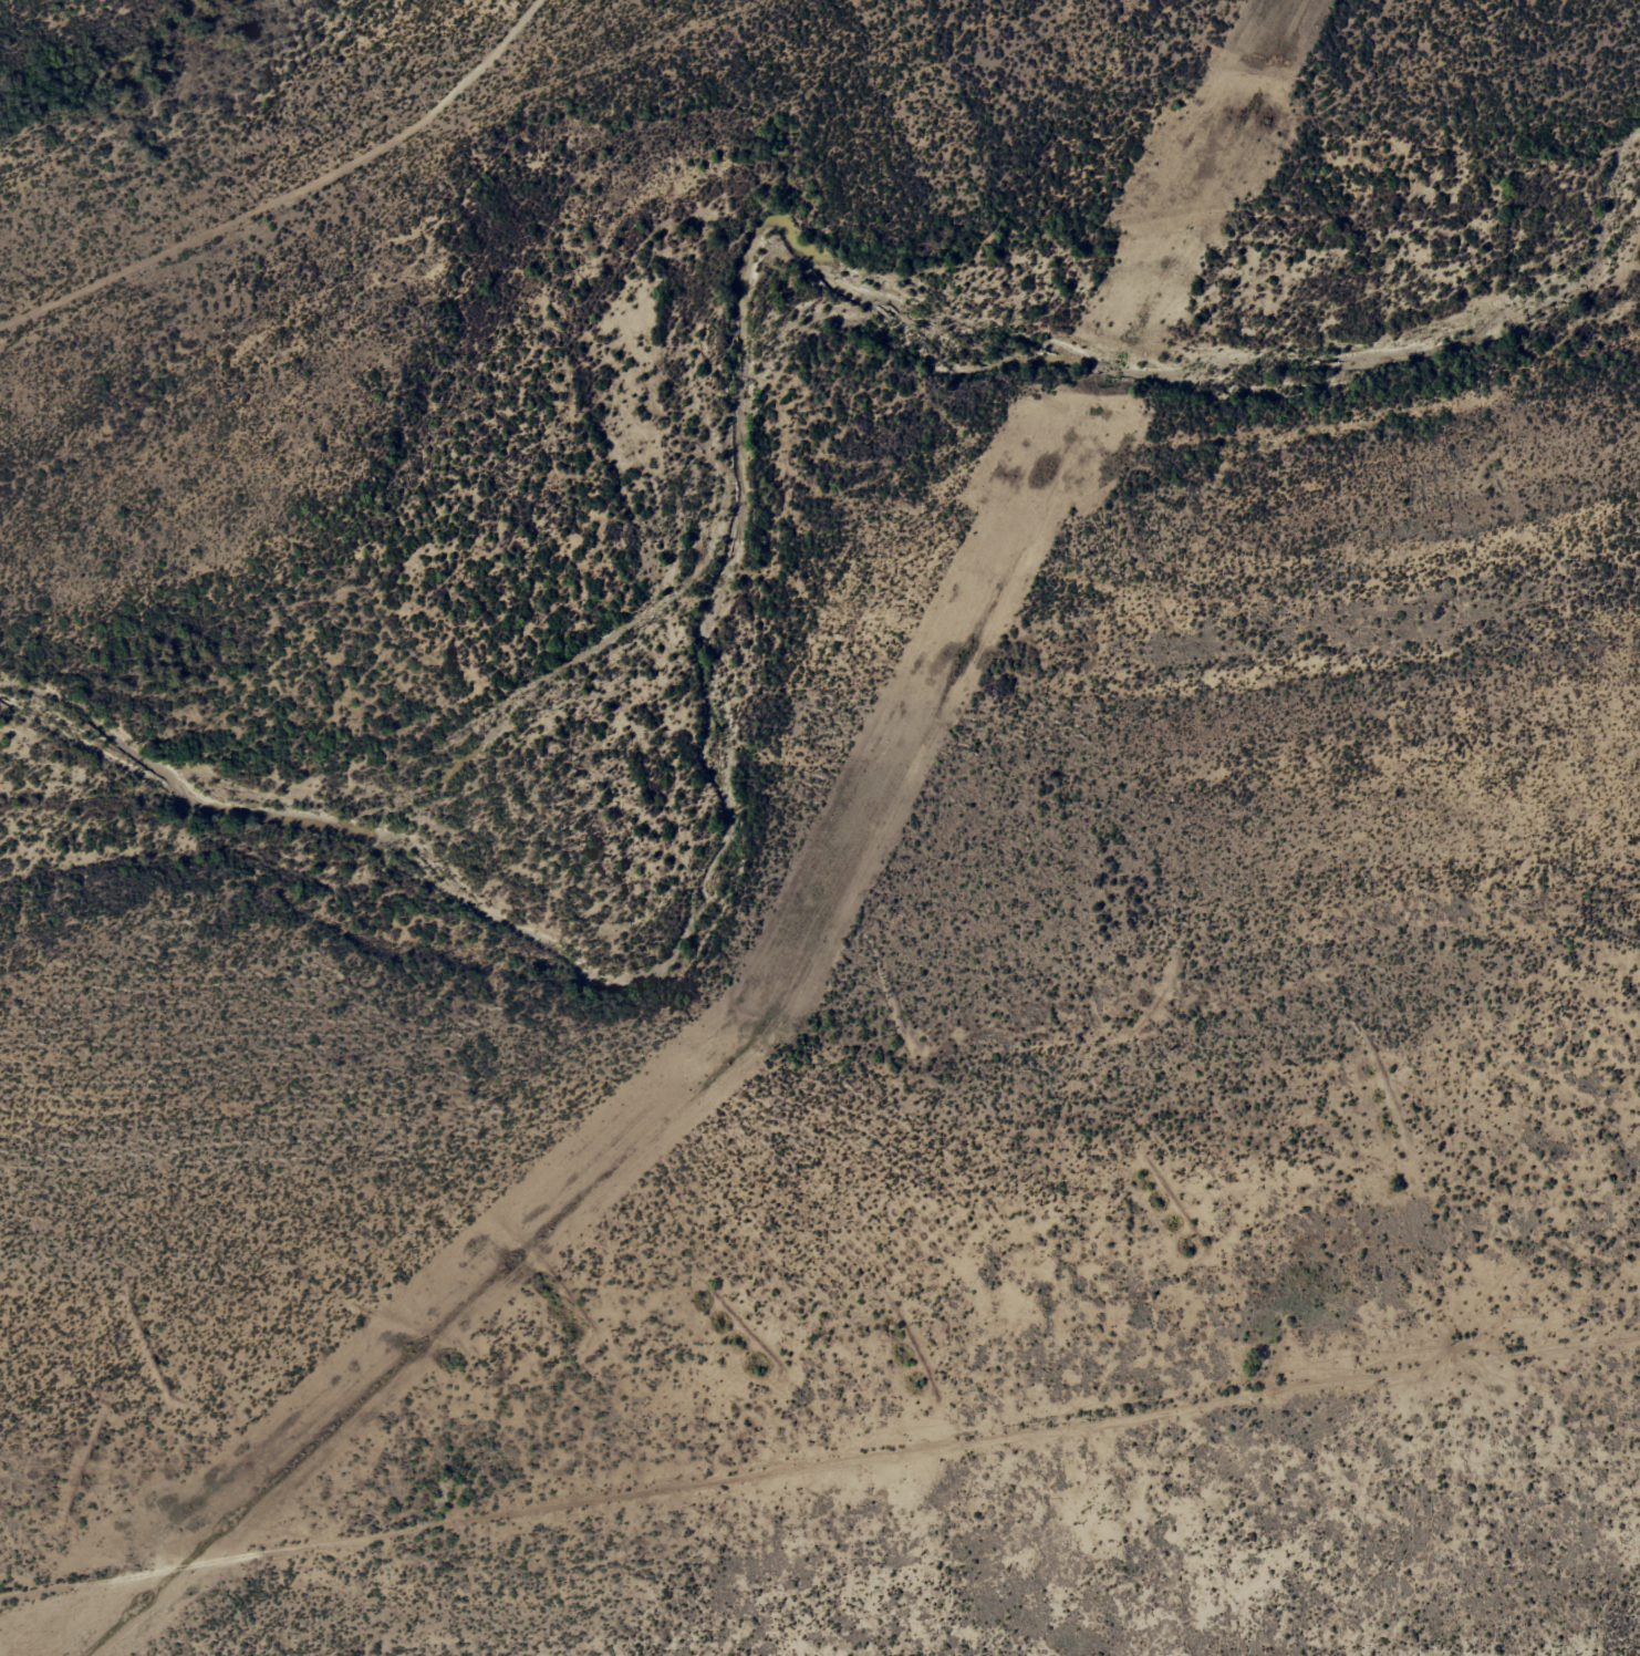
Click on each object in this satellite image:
road: (355, 241)

